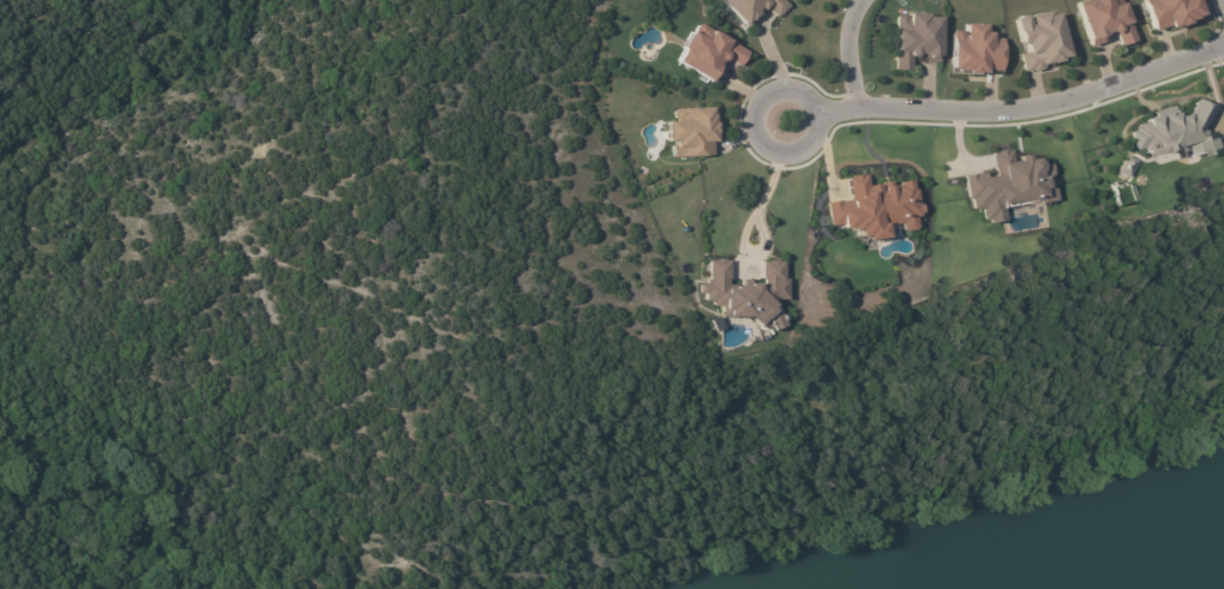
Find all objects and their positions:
building: (798, 0)
building: (752, 8)
building: (1169, 12)
building: (1102, 20)
building: (916, 38)
building: (1039, 40)
building: (973, 50)
building: (707, 52)
road: (846, 52)
road: (1007, 107)
building: (690, 131)
building: (1174, 133)
building: (1126, 166)
building: (1008, 184)
building: (874, 206)
road: (757, 216)
building: (744, 292)

